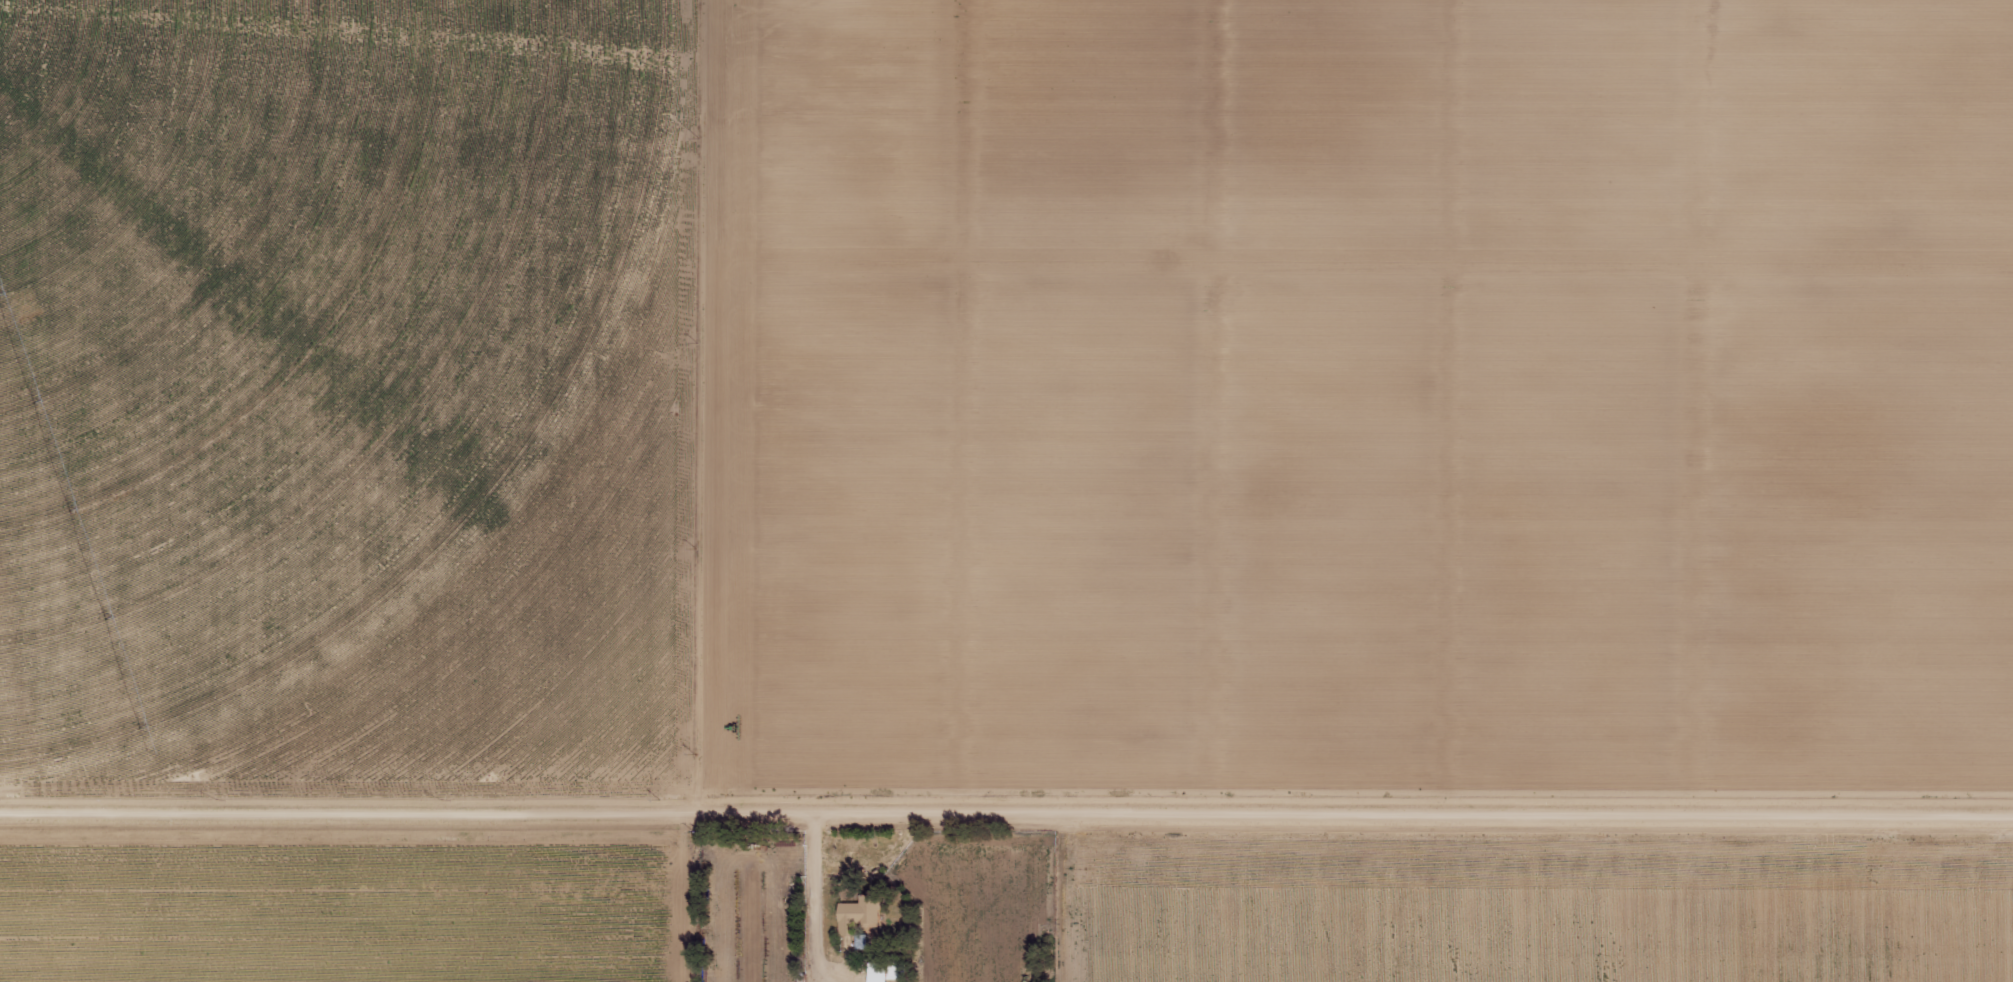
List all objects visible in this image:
road: (715, 403)
road: (1006, 798)
road: (715, 894)

